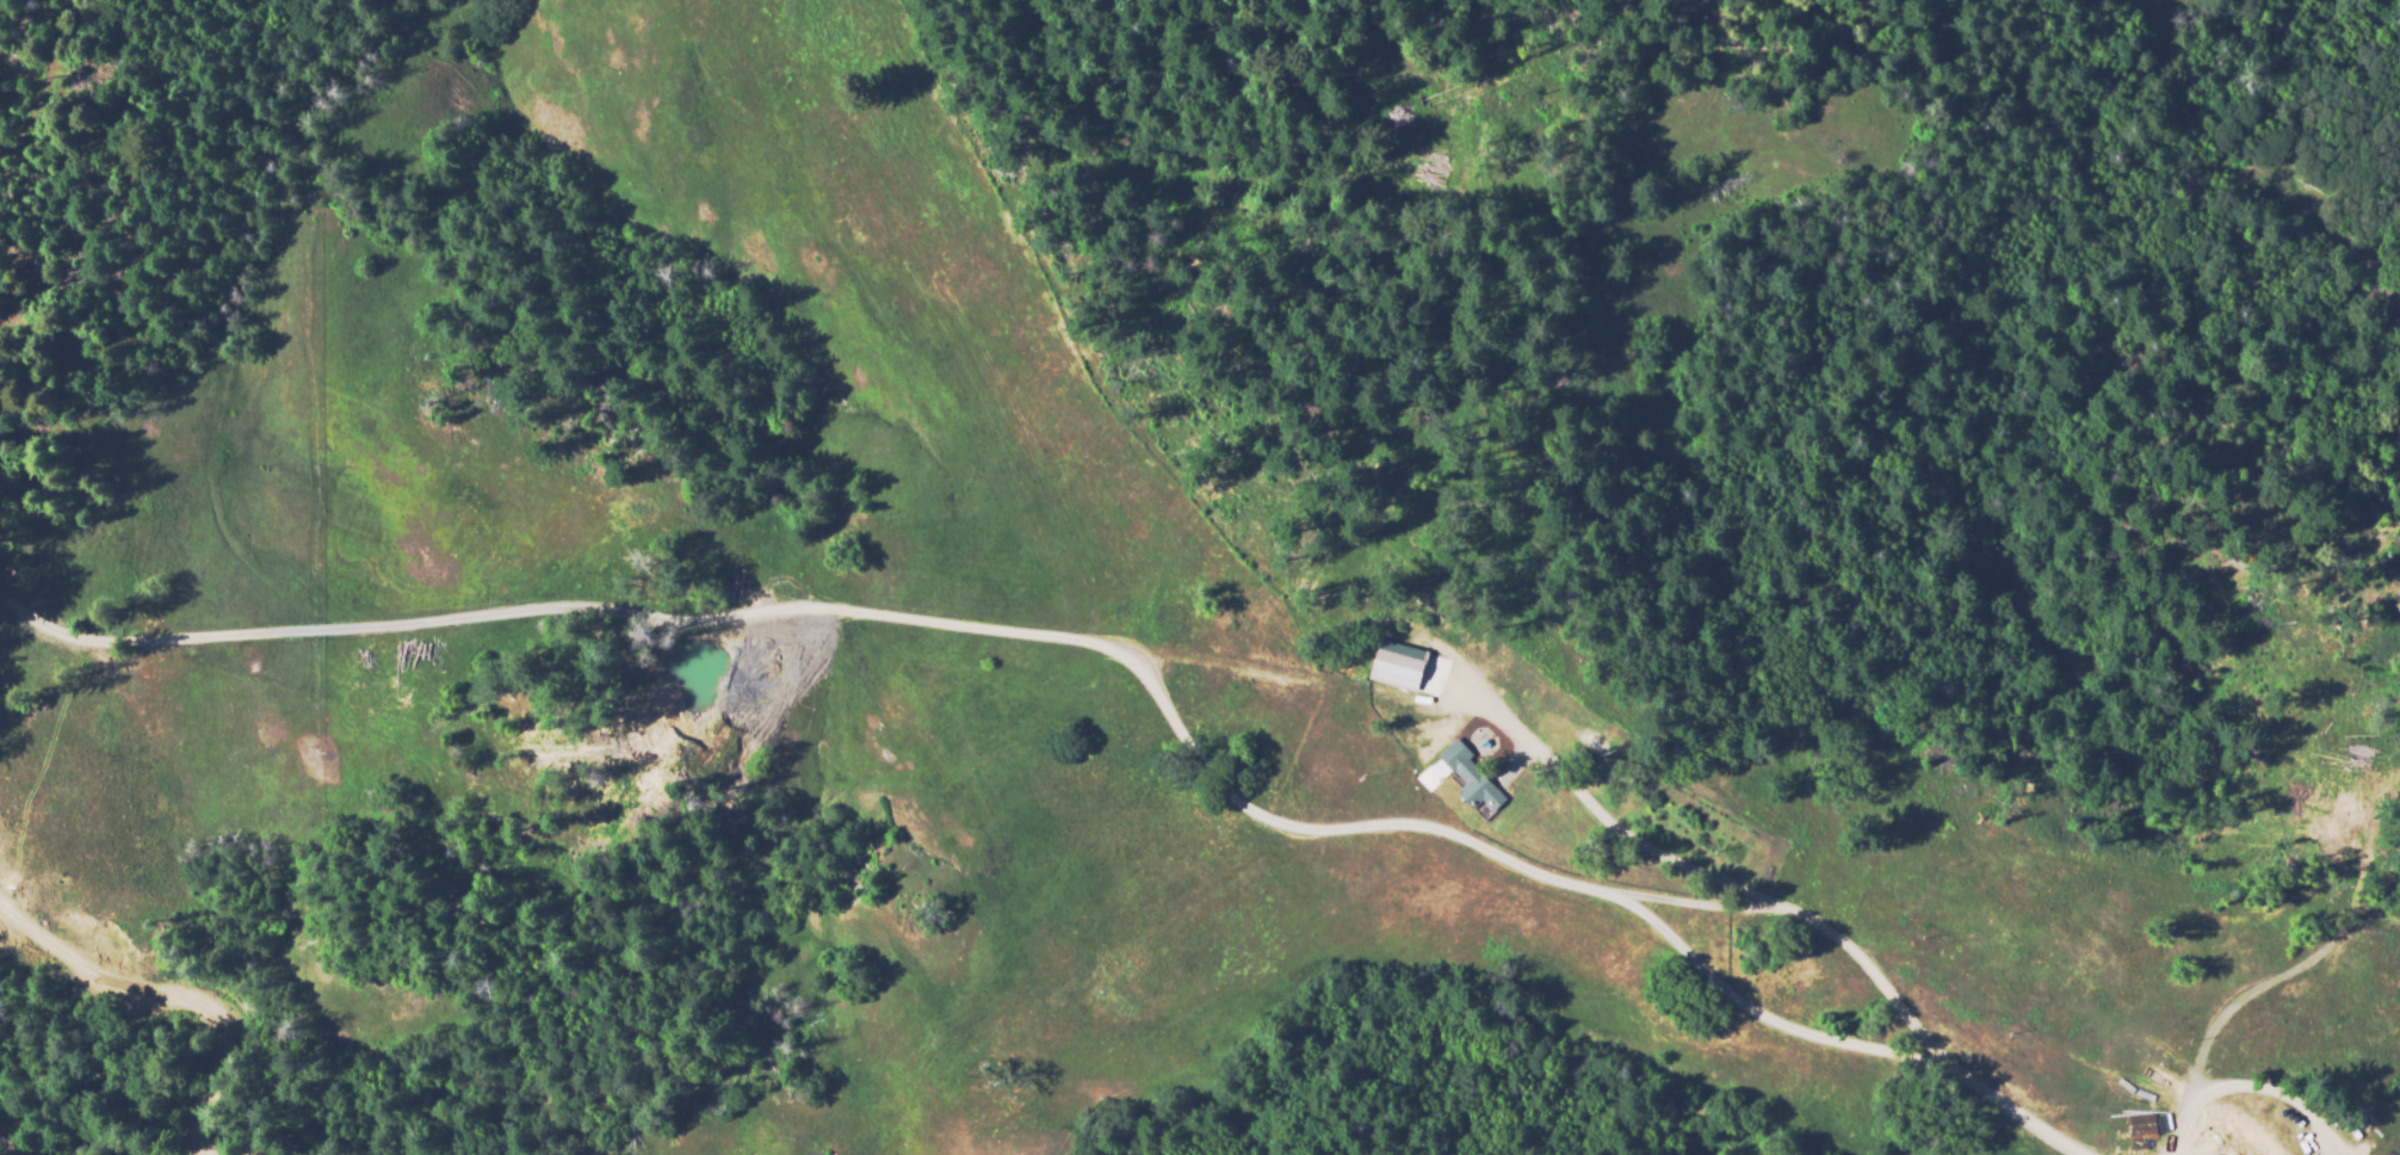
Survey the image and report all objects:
road: (935, 620)
building: (1394, 663)
building: (1474, 784)
road: (1820, 927)
road: (2278, 968)
building: (2396, 1118)

